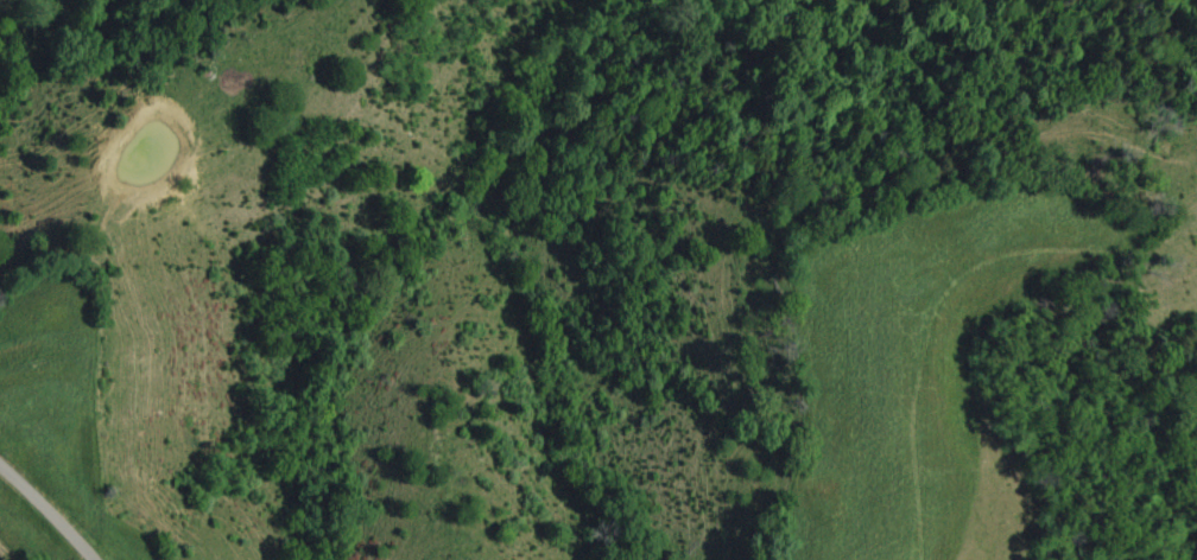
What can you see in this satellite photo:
road: (36, 520)

